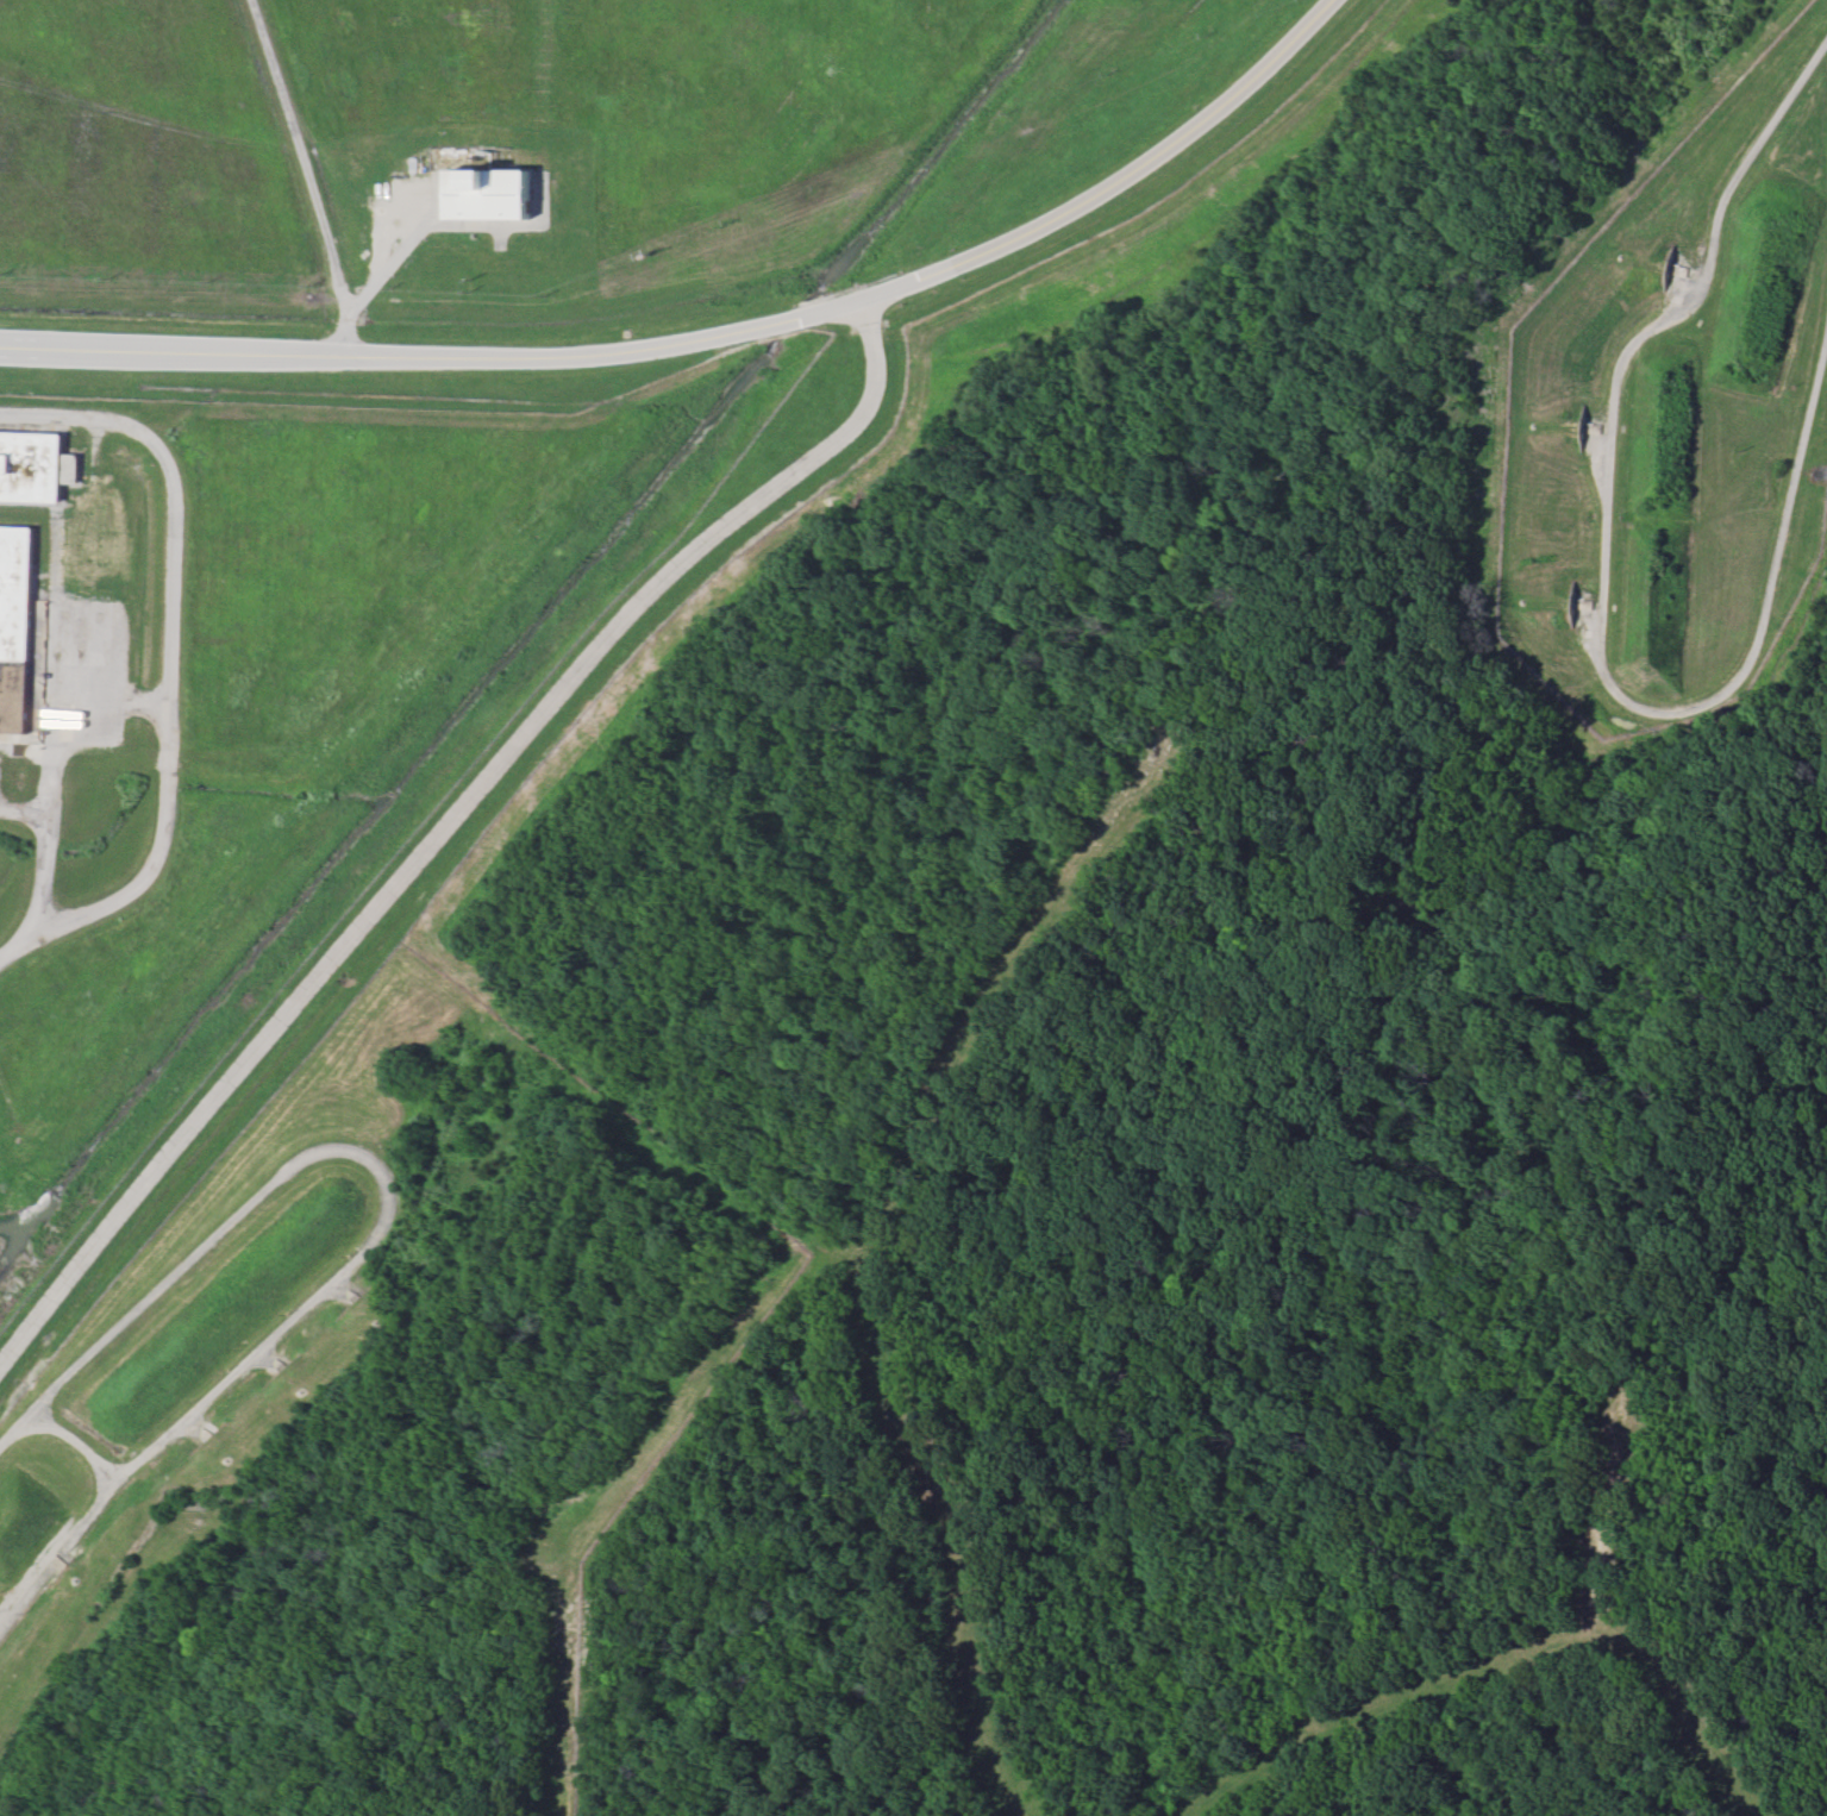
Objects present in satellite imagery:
road: (301, 156)
building: (490, 194)
road: (386, 267)
road: (713, 332)
building: (33, 466)
road: (1601, 589)
building: (17, 638)
road: (164, 653)
road: (23, 802)
road: (42, 838)

